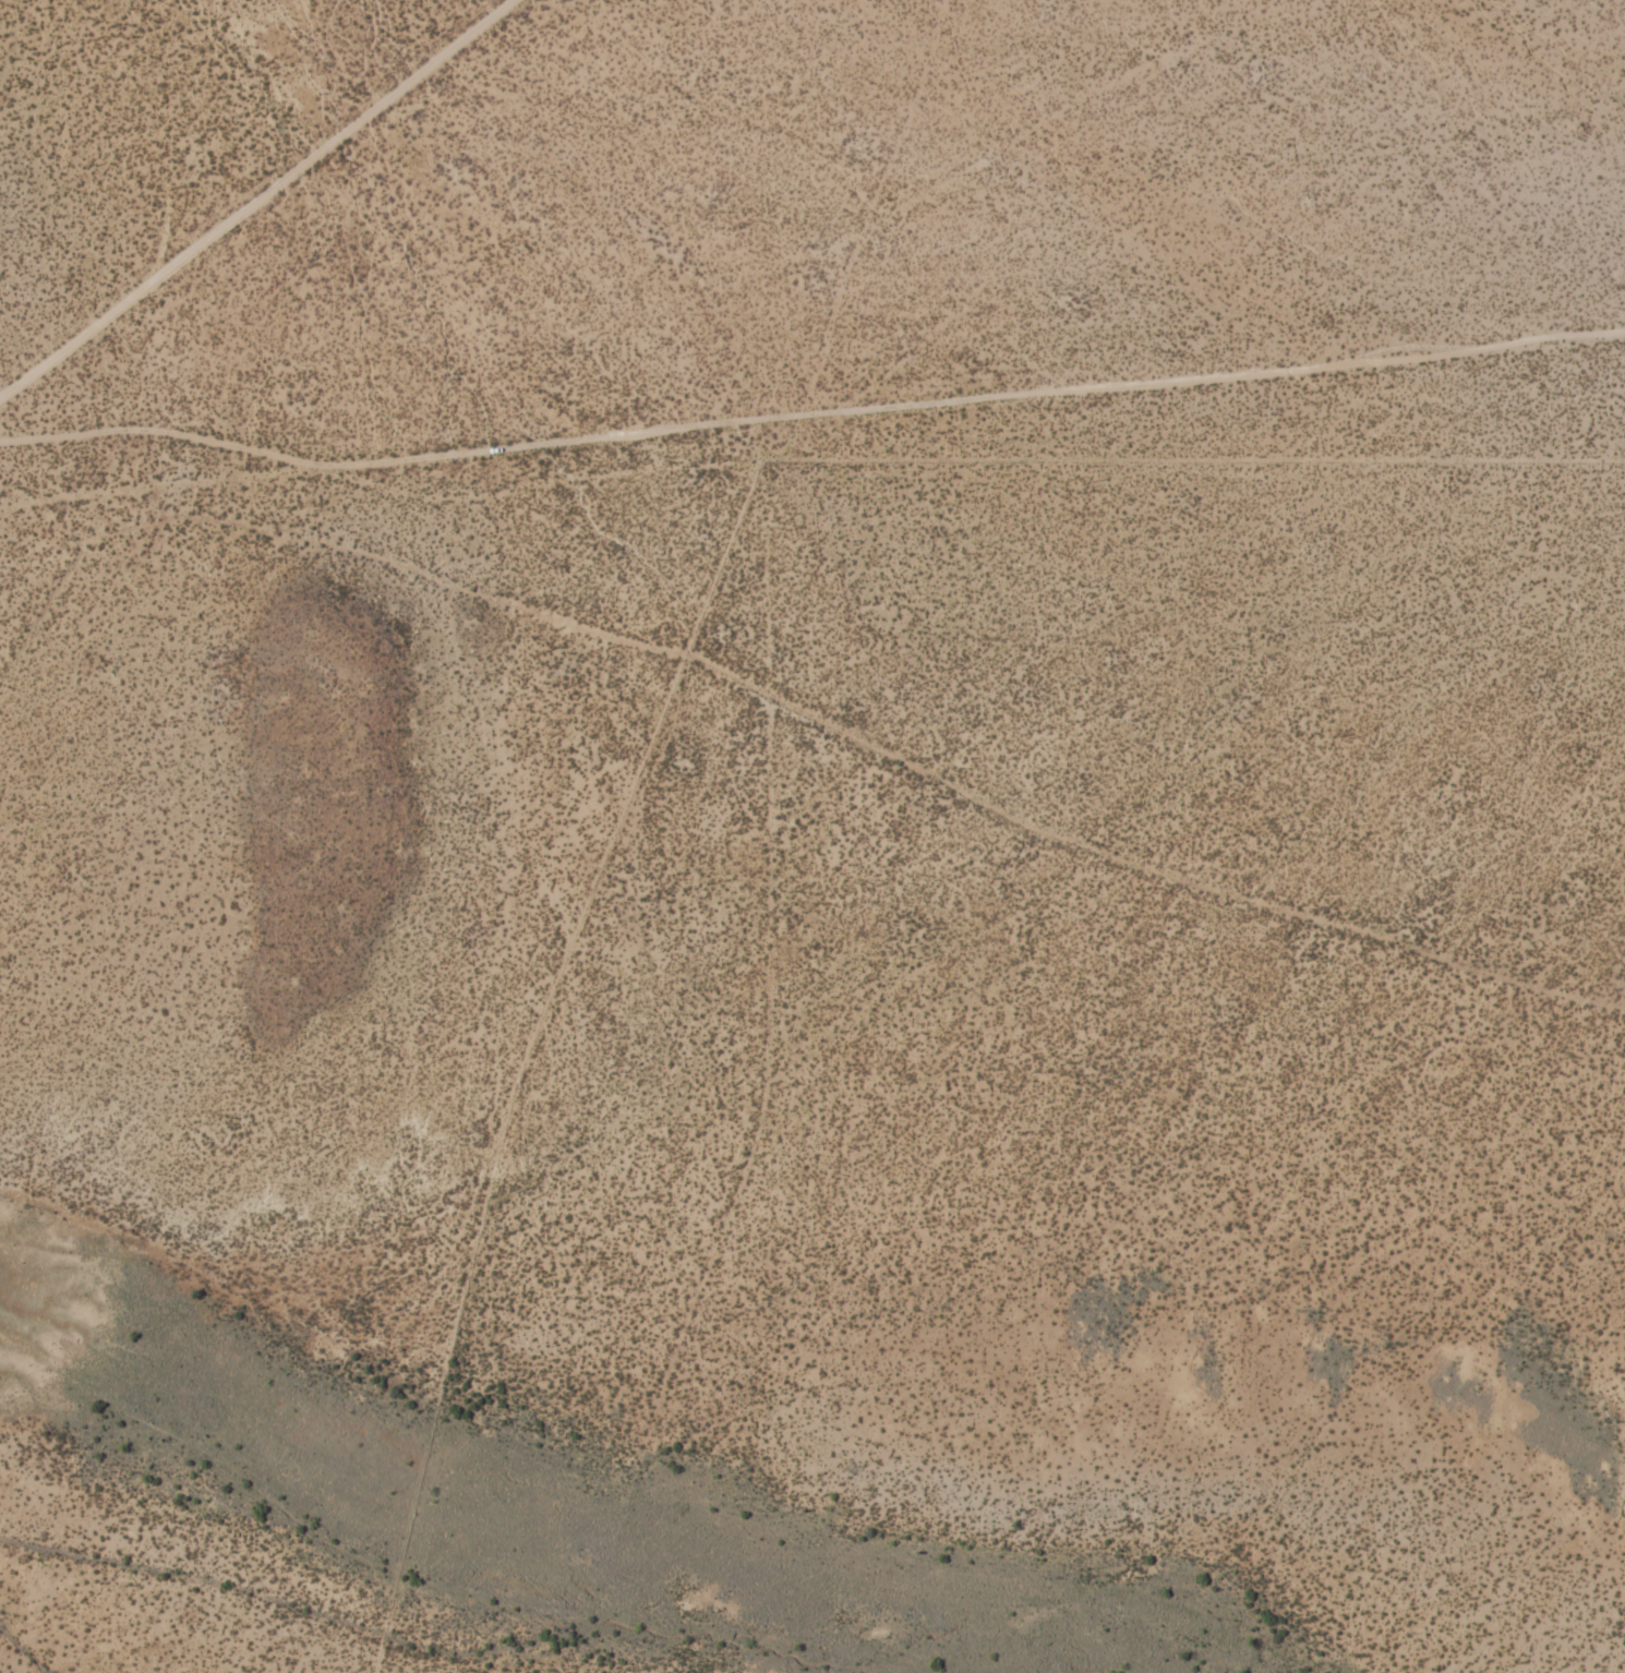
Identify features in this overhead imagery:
road: (252, 194)
road: (812, 381)

